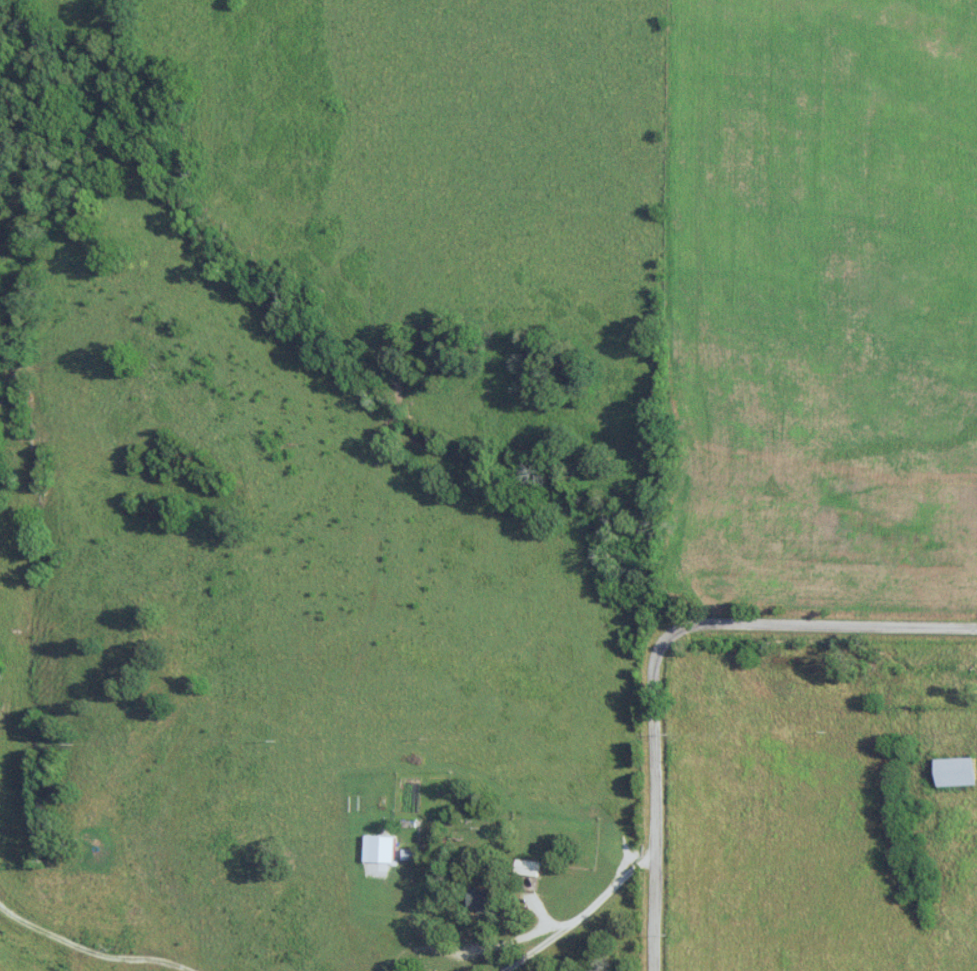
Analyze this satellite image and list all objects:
road: (714, 624)
building: (951, 771)
building: (489, 899)
road: (656, 912)
road: (586, 916)
road: (76, 946)

